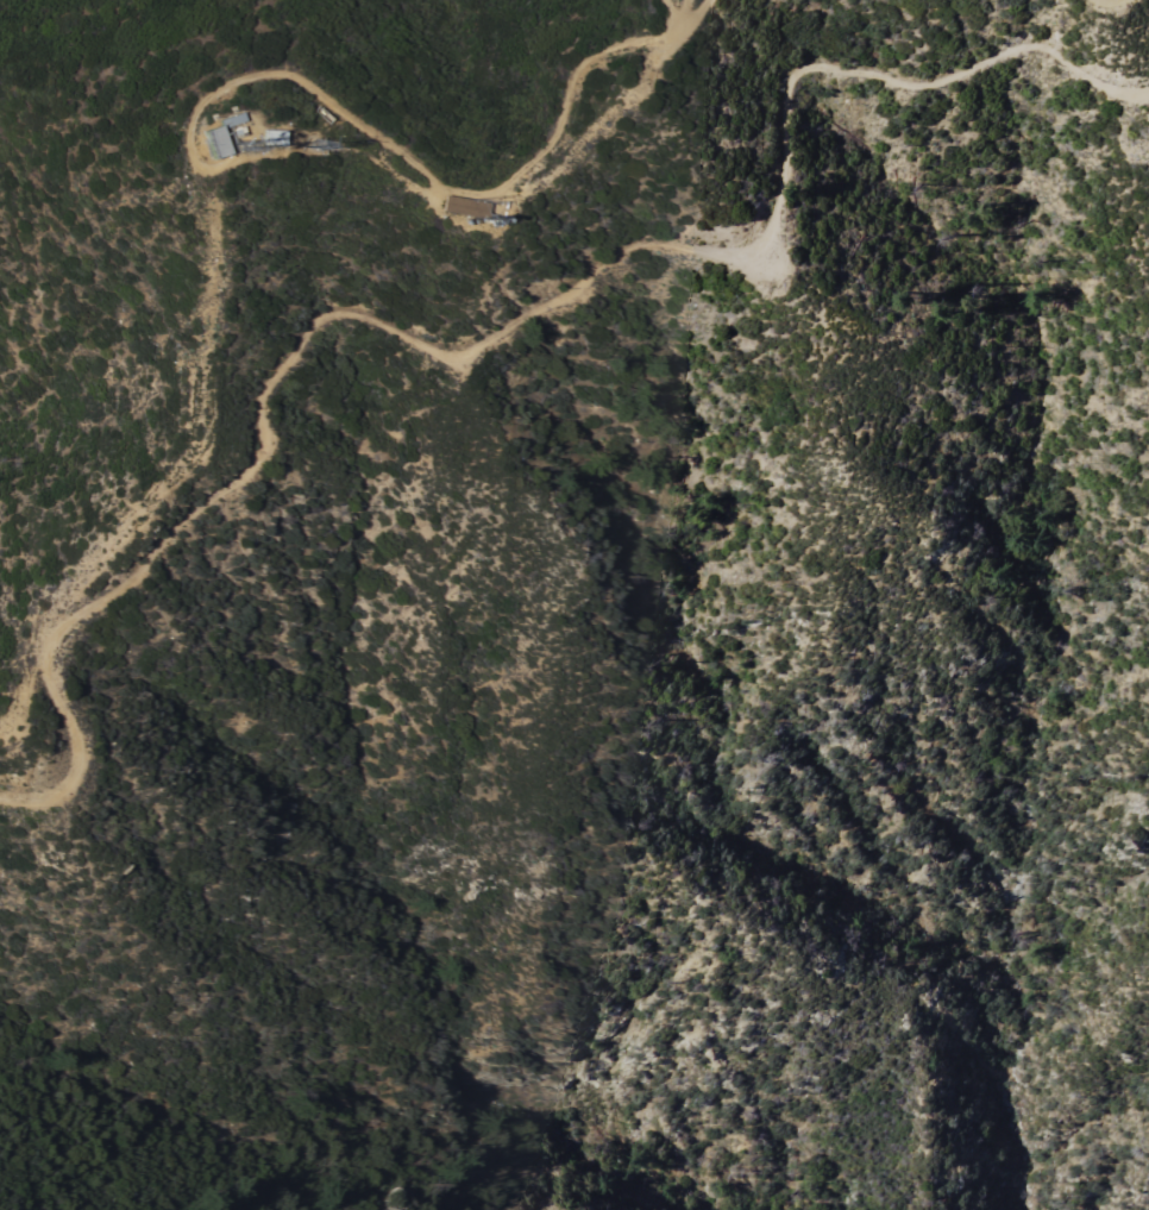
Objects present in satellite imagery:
road: (1116, 1)
road: (677, 17)
road: (683, 17)
road: (693, 17)
building: (219, 134)
building: (272, 136)
building: (181, 137)
road: (428, 167)
building: (465, 205)
road: (498, 337)
road: (203, 362)

